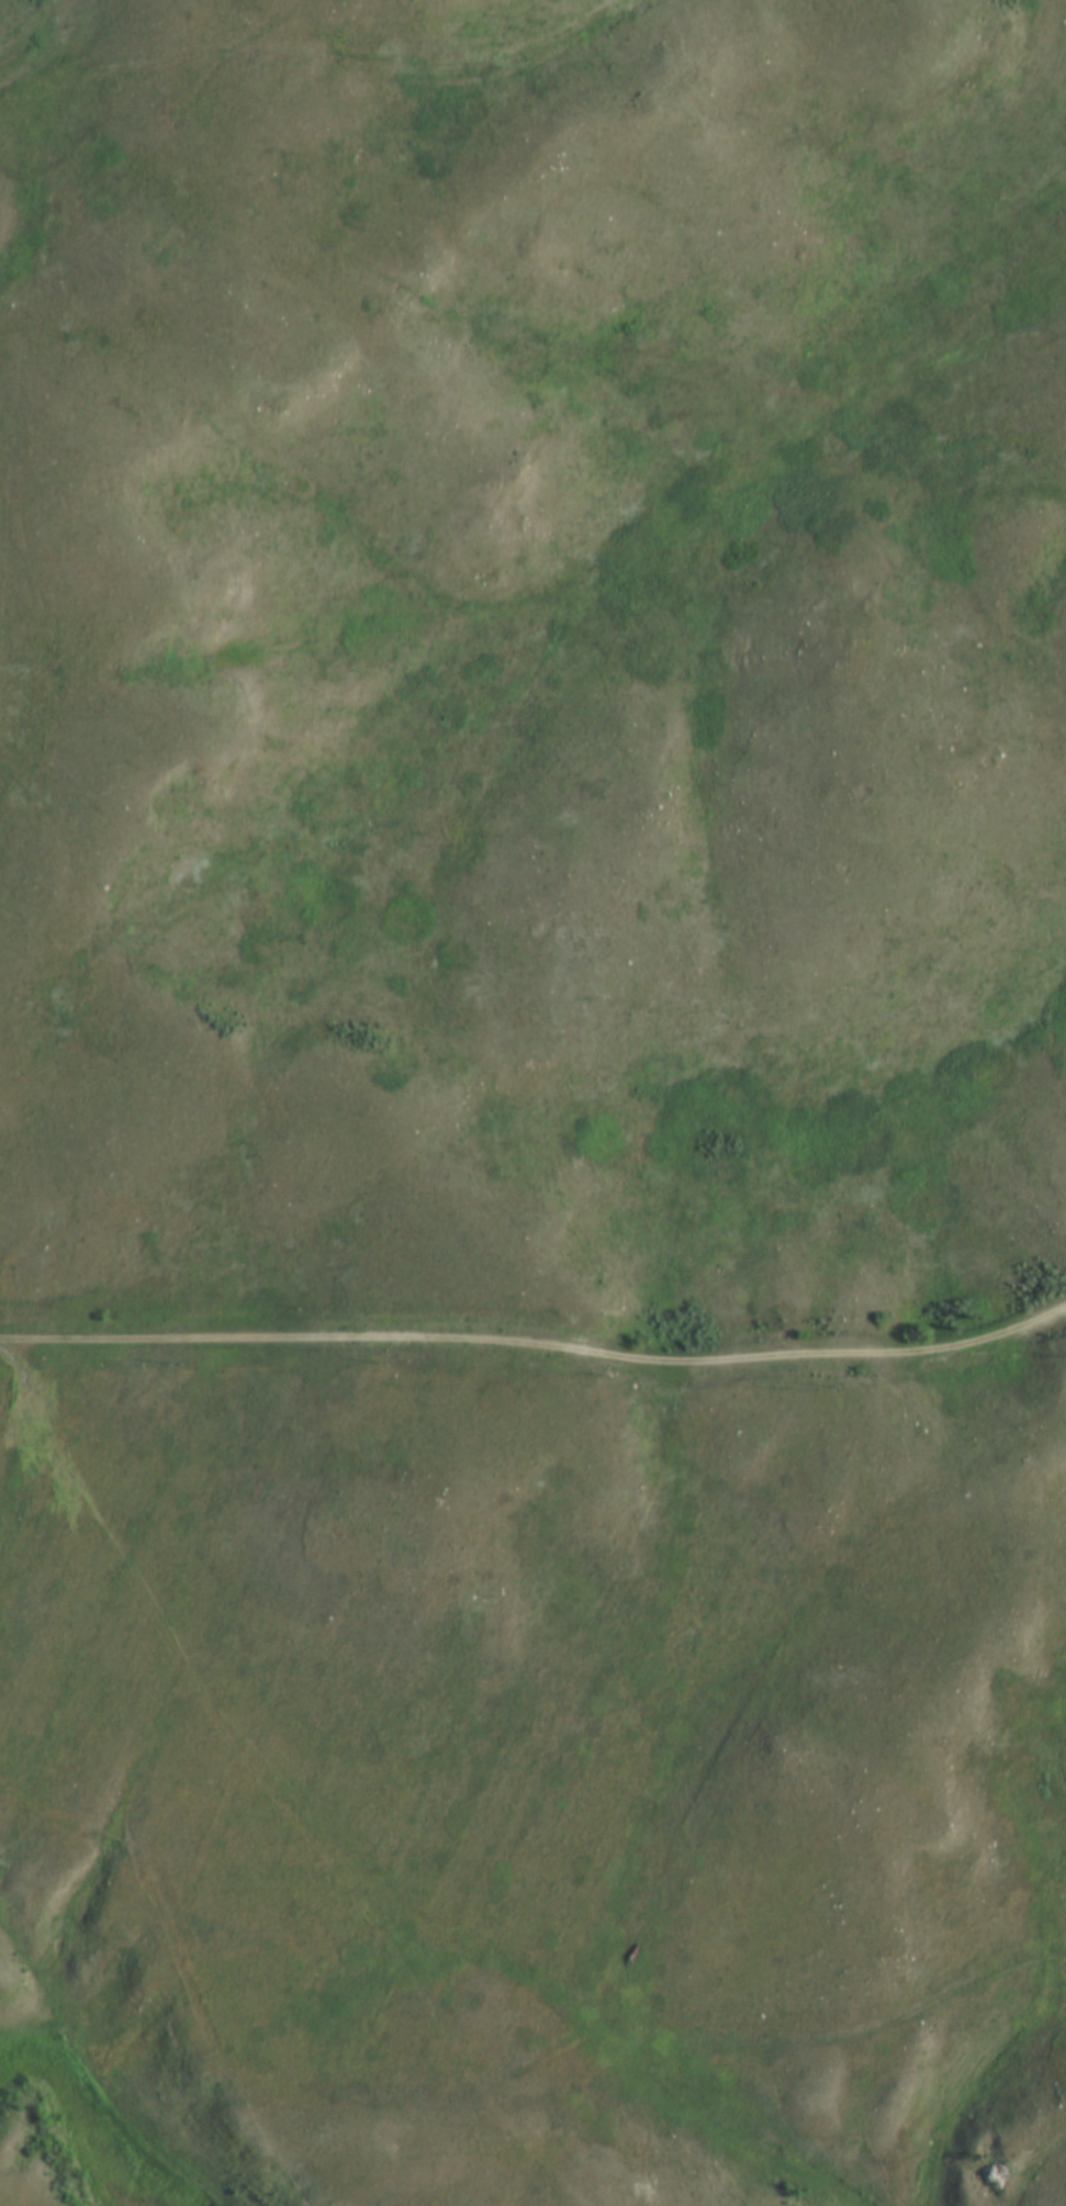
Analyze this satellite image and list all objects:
road: (537, 1332)

